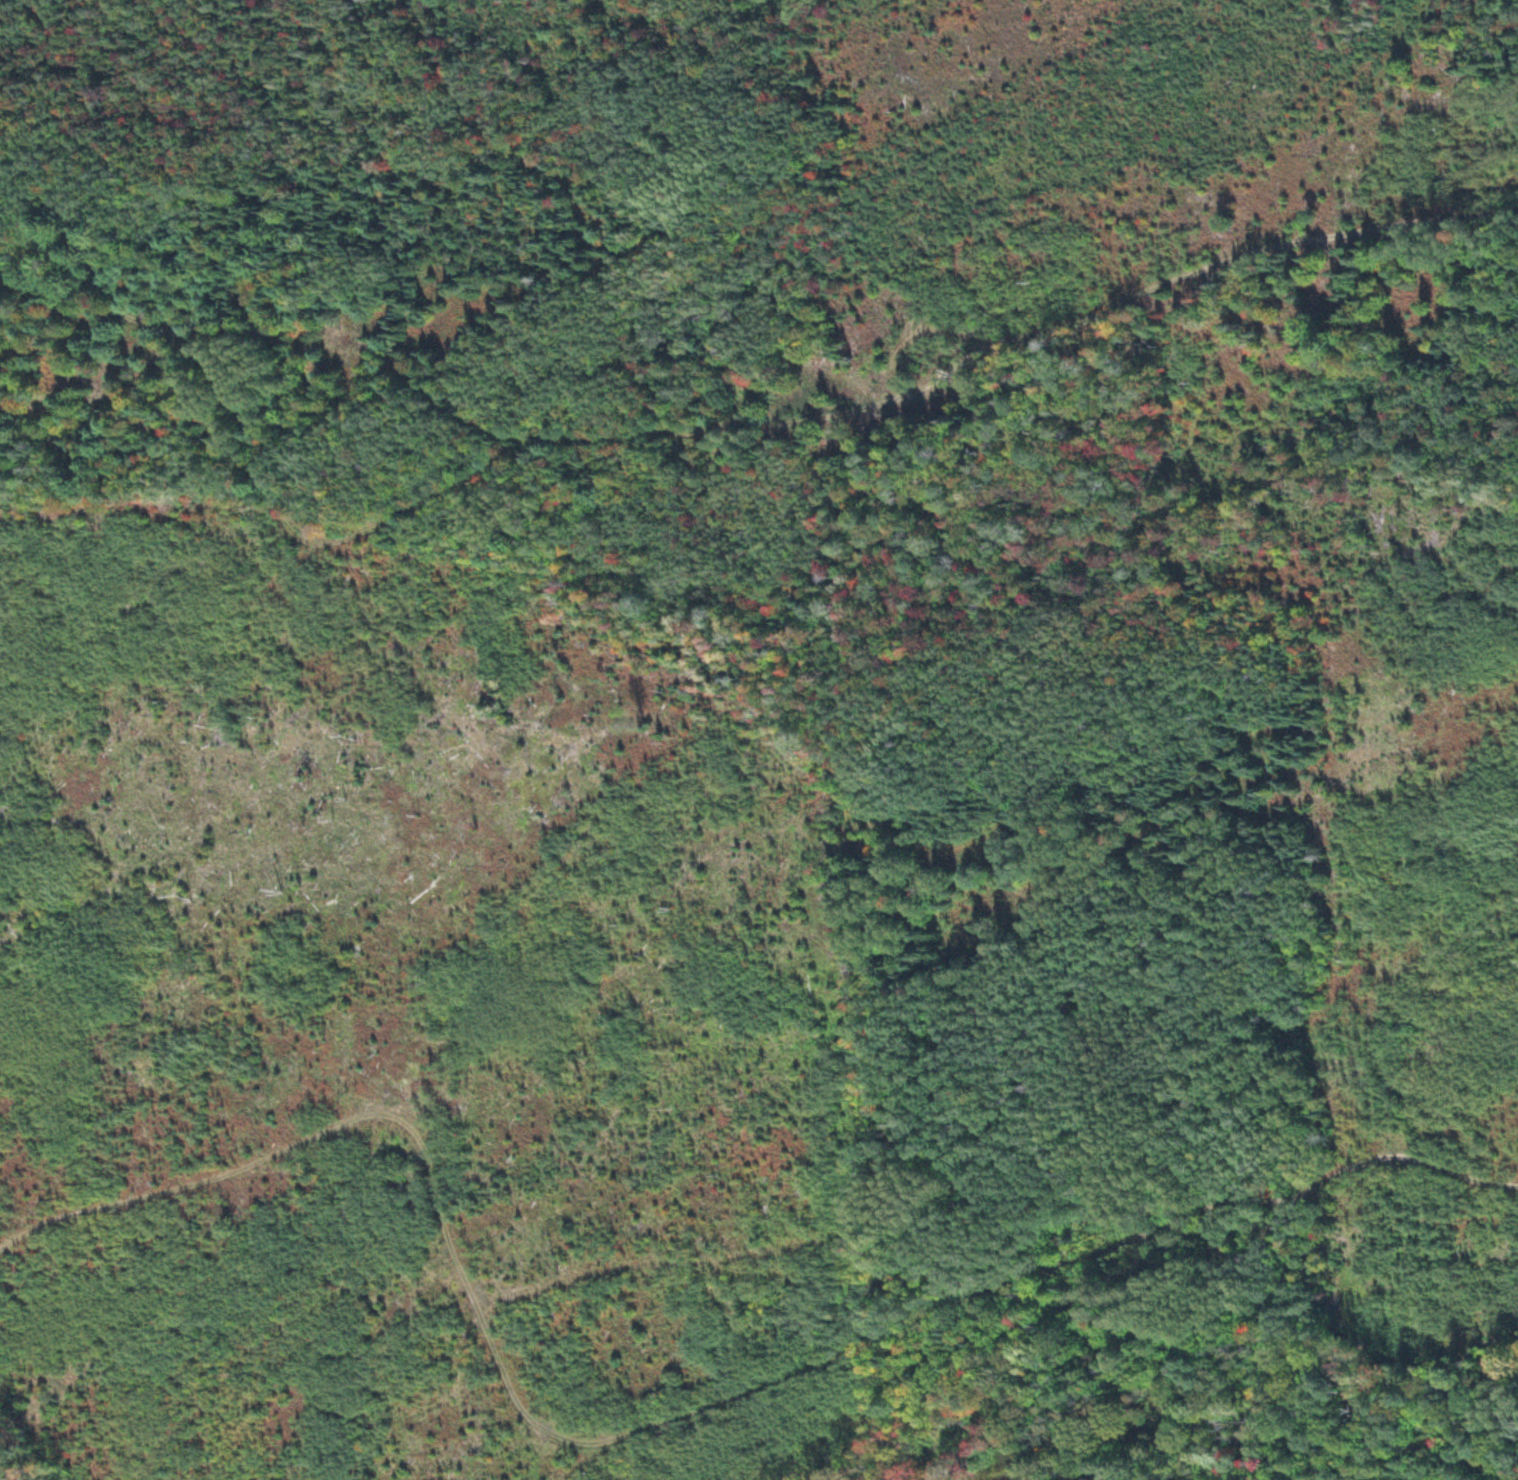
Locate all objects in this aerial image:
road: (711, 421)
road: (667, 1419)

